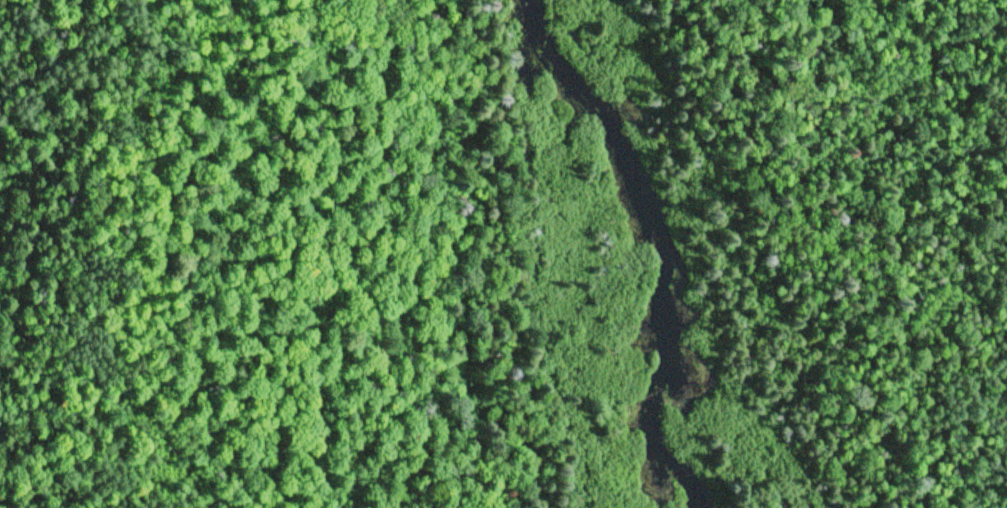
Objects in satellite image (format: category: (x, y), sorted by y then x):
river: (625, 262)

